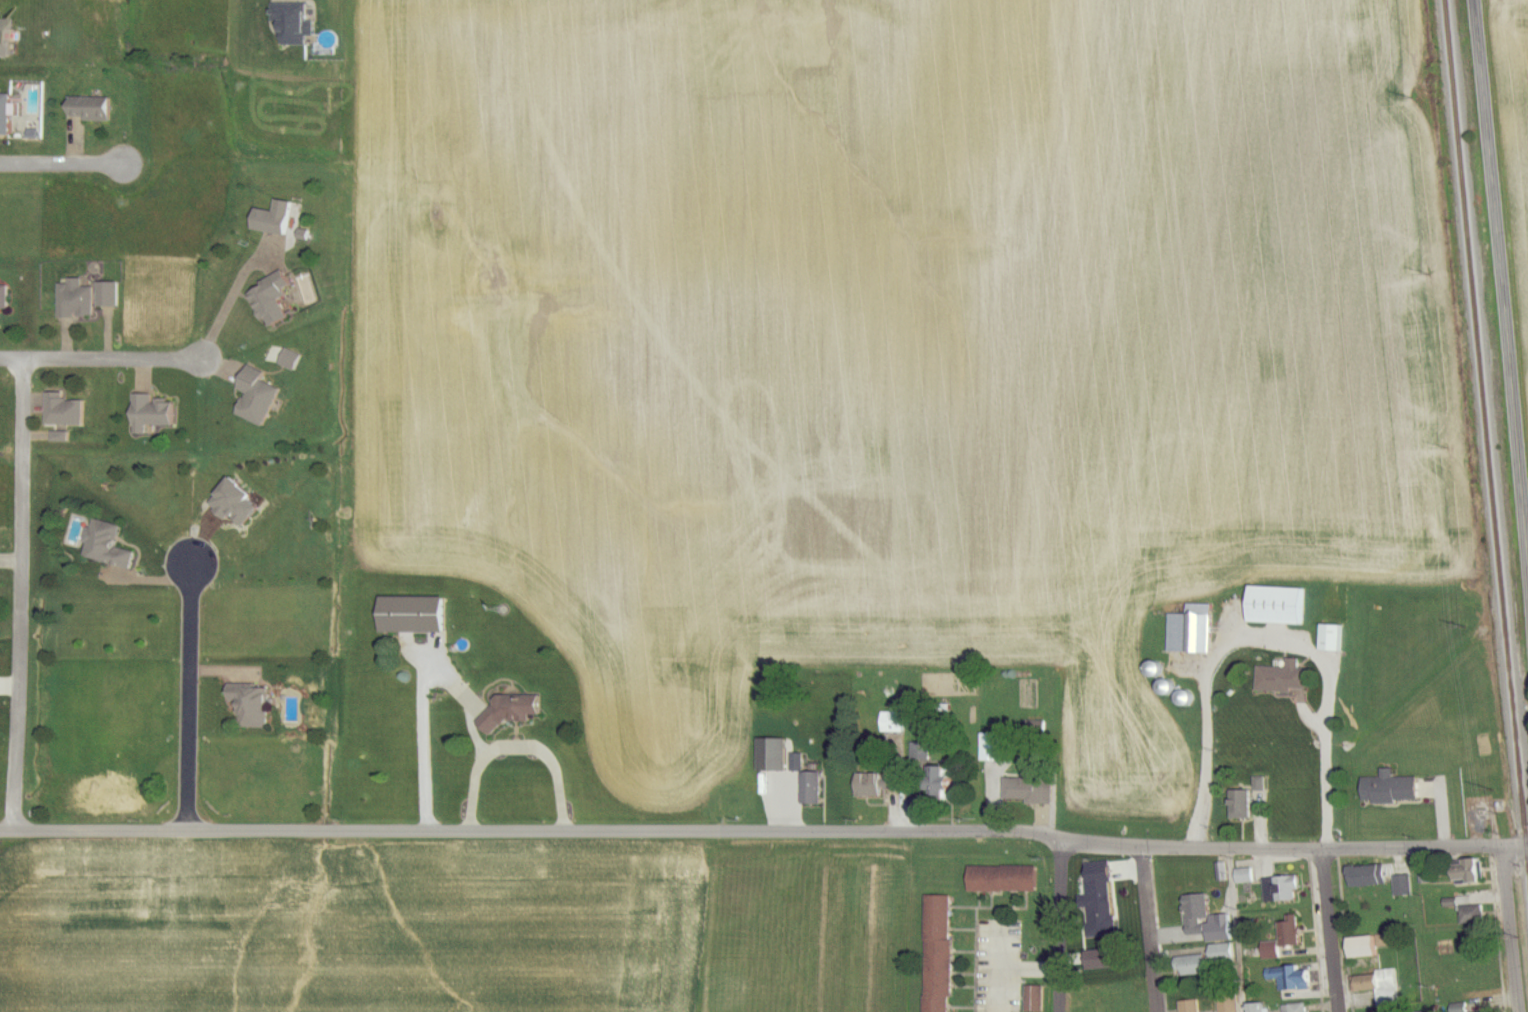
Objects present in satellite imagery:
building: (94, 109)
building: (9, 115)
road: (62, 165)
building: (280, 218)
road: (1504, 268)
building: (108, 294)
building: (275, 300)
building: (80, 301)
road: (174, 357)
building: (260, 397)
building: (66, 412)
building: (156, 413)
railway: (1485, 454)
building: (272, 479)
building: (245, 502)
building: (73, 533)
building: (111, 546)
road: (24, 593)
building: (1273, 607)
building: (419, 615)
building: (1187, 631)
building: (1327, 639)
road: (1269, 641)
building: (1285, 677)
road: (190, 696)
road: (422, 698)
building: (254, 708)
building: (896, 722)
road: (518, 748)
building: (993, 759)
building: (879, 784)
building: (947, 787)
building: (814, 788)
building: (1031, 790)
building: (1393, 791)
building: (1250, 801)
road: (761, 830)
road: (1525, 849)
building: (1461, 873)
building: (1360, 879)
building: (1005, 880)
building: (1401, 887)
building: (1199, 915)
building: (1470, 916)
road: (1063, 926)
road: (1156, 930)
road: (1330, 930)
road: (1513, 930)
building: (1289, 935)
building: (1357, 948)
building: (1225, 952)
building: (940, 954)
building: (1199, 967)
road: (1013, 971)
building: (1292, 981)
road: (1001, 983)
building: (1375, 990)
building: (1083, 992)
building: (1037, 999)
building: (1227, 1004)
building: (1192, 1006)
building: (1297, 1008)
building: (1258, 1009)
road: (1240, 1011)

